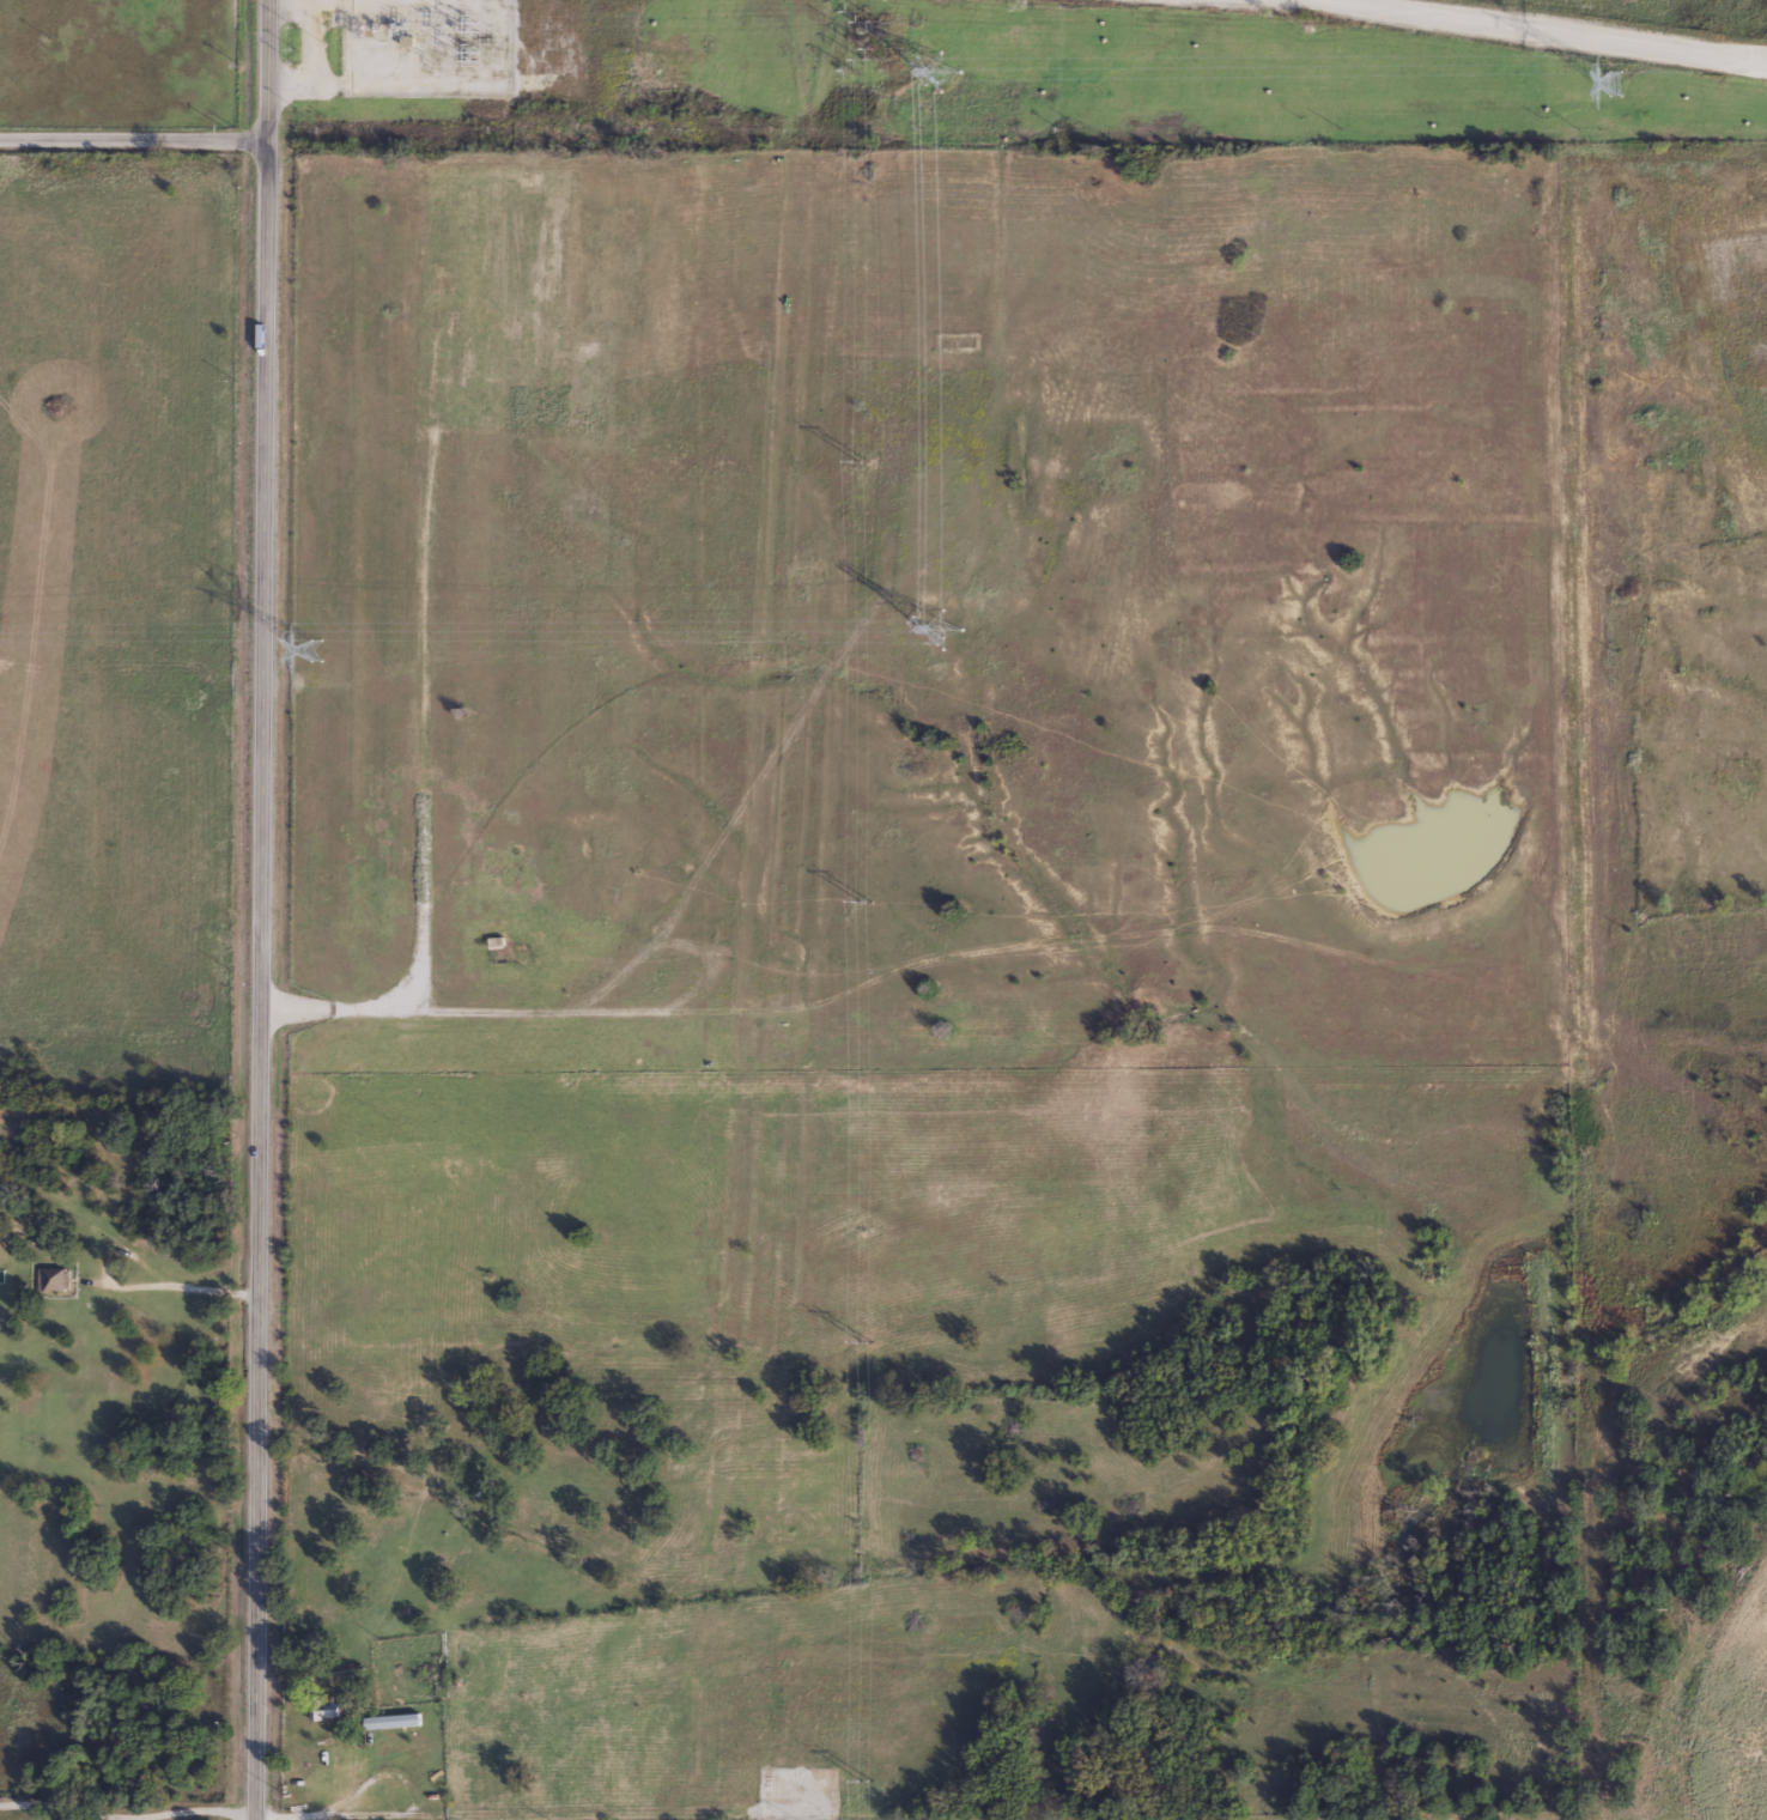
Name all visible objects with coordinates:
road: (1529, 29)
building: (406, 41)
power substation: (429, 47)
power tower: (937, 69)
power tower: (1613, 81)
road: (130, 138)
building: (1744, 236)
building: (512, 339)
building: (1765, 380)
power tower: (937, 625)
power tower: (316, 647)
road: (259, 909)
road: (417, 982)
building: (53, 1278)
road: (127, 1285)
road: (129, 1636)
building: (322, 1709)
building: (390, 1719)
road: (126, 1816)

